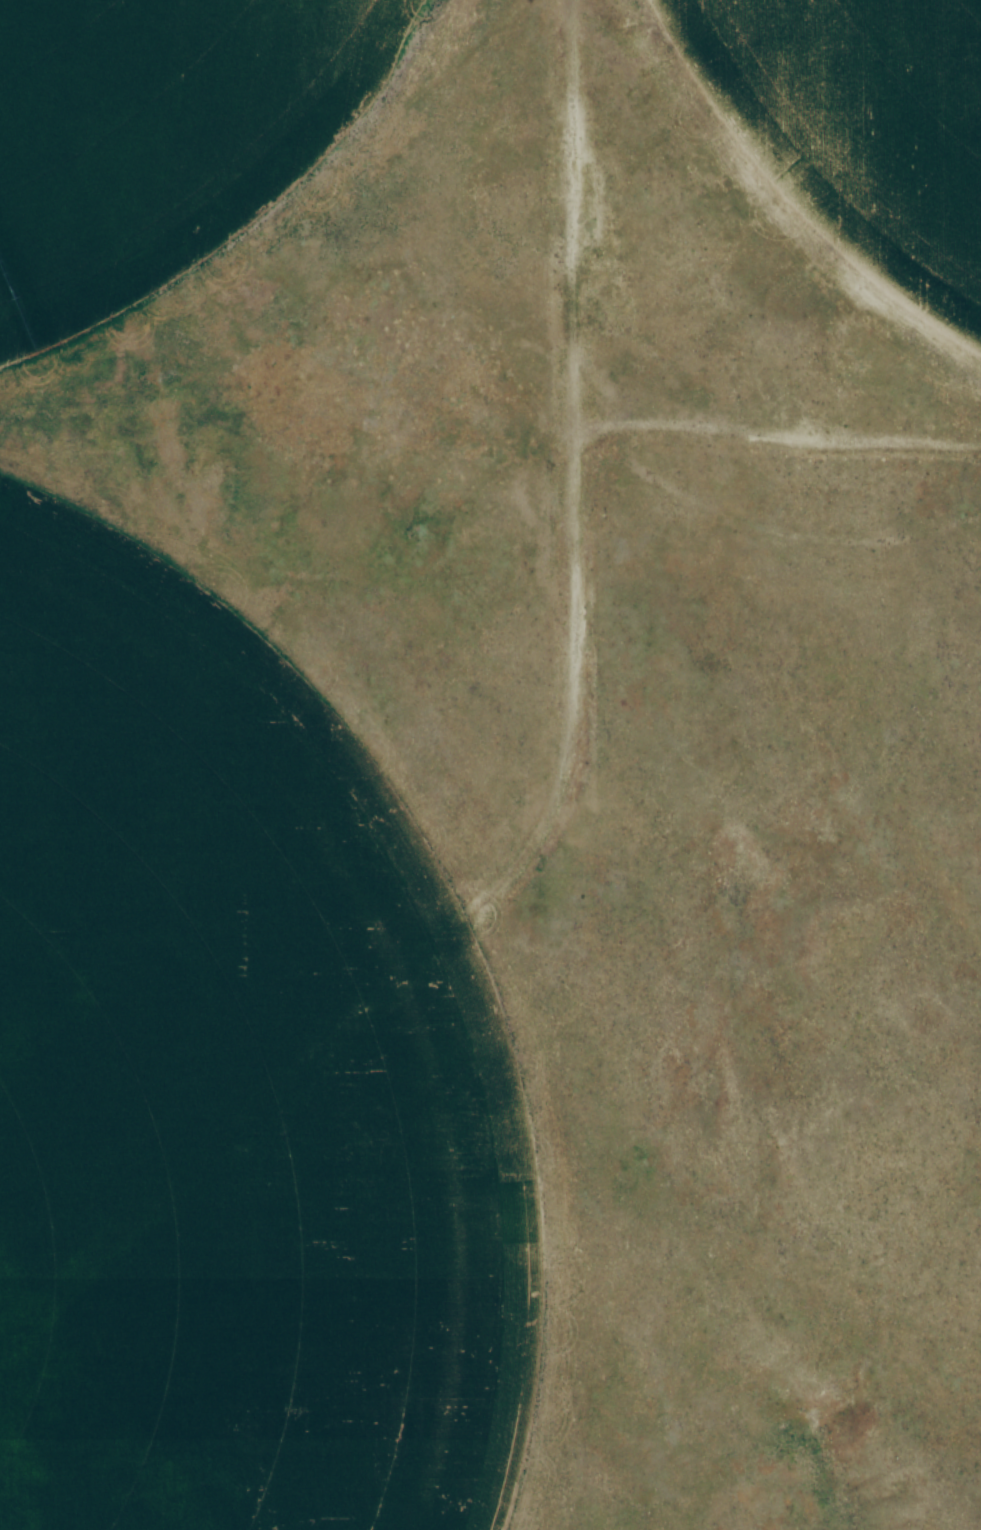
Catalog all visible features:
crop: (154, 124)
crop: (861, 126)
crop: (228, 1091)

